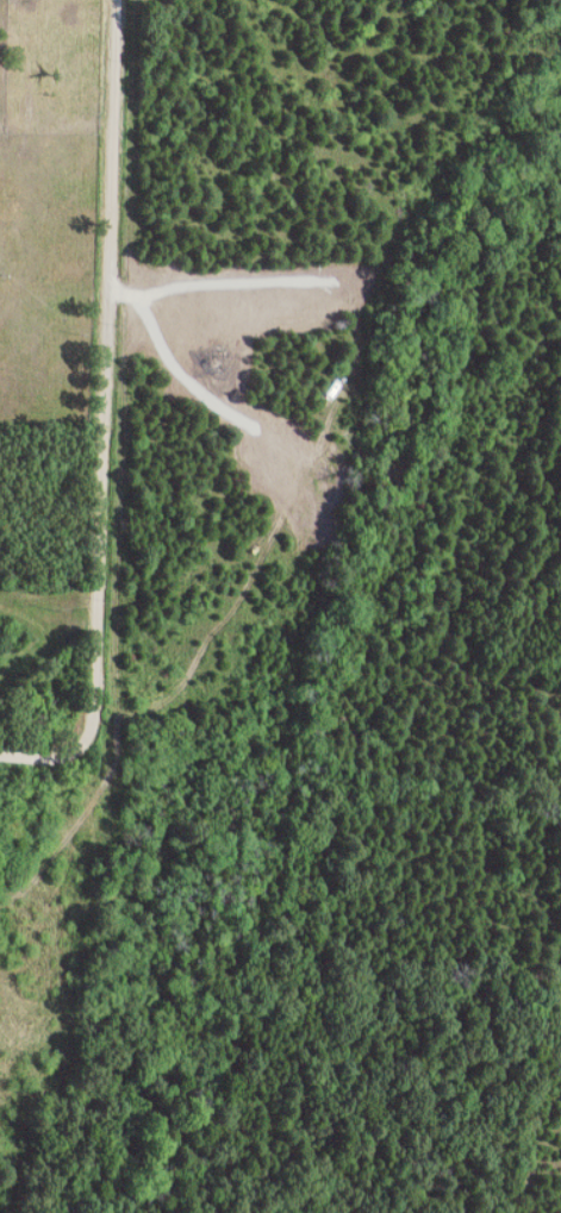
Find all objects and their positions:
road: (106, 419)

